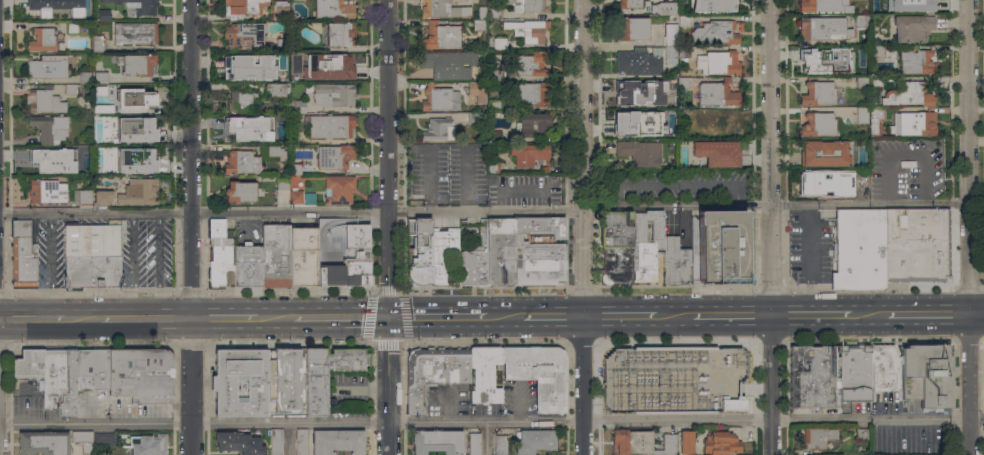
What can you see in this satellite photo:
building: (76, 1)
building: (630, 4)
building: (714, 5)
building: (916, 5)
building: (529, 6)
building: (824, 6)
building: (136, 7)
building: (664, 7)
building: (243, 8)
building: (41, 9)
building: (280, 9)
building: (332, 9)
building: (443, 9)
road: (616, 11)
building: (482, 12)
building: (494, 12)
building: (103, 15)
road: (542, 15)
building: (683, 20)
building: (861, 20)
building: (300, 22)
building: (478, 24)
building: (72, 28)
building: (633, 28)
building: (824, 28)
building: (912, 28)
building: (527, 30)
building: (715, 31)
building: (132, 33)
building: (243, 34)
building: (338, 34)
building: (670, 34)
building: (441, 36)
building: (44, 40)
building: (97, 43)
building: (499, 43)
building: (281, 44)
building: (877, 50)
building: (683, 51)
building: (860, 51)
building: (670, 54)
building: (622, 59)
building: (915, 61)
building: (330, 62)
building: (717, 62)
building: (821, 62)
building: (137, 64)
building: (449, 64)
building: (531, 64)
building: (47, 67)
building: (248, 67)
building: (673, 71)
building: (496, 75)
building: (100, 76)
building: (306, 76)
building: (84, 77)
building: (682, 81)
building: (861, 81)
building: (875, 81)
building: (70, 89)
building: (275, 89)
building: (636, 89)
building: (477, 90)
building: (529, 92)
building: (716, 92)
building: (818, 93)
building: (334, 94)
building: (909, 94)
building: (138, 95)
building: (439, 98)
building: (241, 100)
building: (43, 101)
building: (667, 101)
building: (299, 105)
building: (494, 105)
building: (102, 107)
building: (684, 113)
building: (862, 115)
building: (474, 118)
building: (874, 119)
building: (632, 122)
building: (720, 123)
building: (914, 123)
building: (533, 124)
building: (330, 125)
building: (818, 125)
building: (49, 127)
building: (139, 128)
building: (250, 128)
building: (438, 129)
building: (665, 131)
building: (494, 134)
building: (295, 136)
building: (102, 138)
building: (640, 152)
building: (717, 152)
building: (822, 152)
building: (527, 154)
building: (333, 156)
building: (134, 158)
road: (390, 159)
building: (52, 160)
road: (429, 161)
building: (241, 162)
building: (492, 166)
building: (294, 169)
building: (98, 171)
building: (862, 175)
road: (464, 180)
building: (821, 182)
building: (282, 183)
building: (338, 189)
road: (521, 190)
building: (47, 191)
building: (139, 192)
building: (240, 192)
building: (82, 196)
building: (295, 196)
building: (102, 197)
building: (309, 198)
road: (498, 201)
road: (544, 201)
road: (492, 213)
road: (193, 227)
road: (586, 227)
road: (771, 227)
road: (972, 227)
building: (915, 242)
building: (721, 244)
building: (645, 245)
building: (616, 246)
building: (859, 248)
building: (342, 251)
building: (499, 251)
building: (537, 251)
building: (430, 252)
building: (220, 253)
building: (23, 254)
building: (276, 255)
building: (90, 256)
building: (303, 256)
building: (475, 258)
building: (674, 260)
building: (247, 264)
road: (157, 266)
road: (132, 267)
road: (978, 314)
road: (928, 315)
road: (504, 316)
road: (554, 316)
road: (732, 316)
road: (810, 316)
road: (866, 316)
road: (437, 317)
road: (620, 317)
road: (674, 317)
road: (225, 318)
road: (275, 318)
road: (340, 318)
traffic signals: (388, 318)
road: (32, 319)
road: (83, 319)
road: (148, 319)
road: (388, 335)
building: (982, 353)
building: (28, 364)
building: (91, 368)
building: (883, 369)
building: (854, 372)
building: (538, 373)
building: (140, 374)
building: (327, 374)
building: (432, 374)
building: (484, 374)
building: (925, 375)
building: (813, 376)
building: (59, 379)
power substation: (674, 379)
building: (286, 380)
building: (241, 382)
road: (388, 403)
building: (732, 404)
road: (491, 422)
building: (862, 435)
building: (102, 437)
building: (816, 437)
road: (290, 439)
road: (486, 439)
building: (82, 440)
building: (276, 441)
building: (301, 441)
building: (337, 441)
building: (534, 441)
building: (43, 442)
building: (437, 442)
building: (641, 442)
building: (685, 442)
building: (239, 443)
building: (721, 443)
building: (149, 444)
building: (474, 444)
building: (500, 444)

